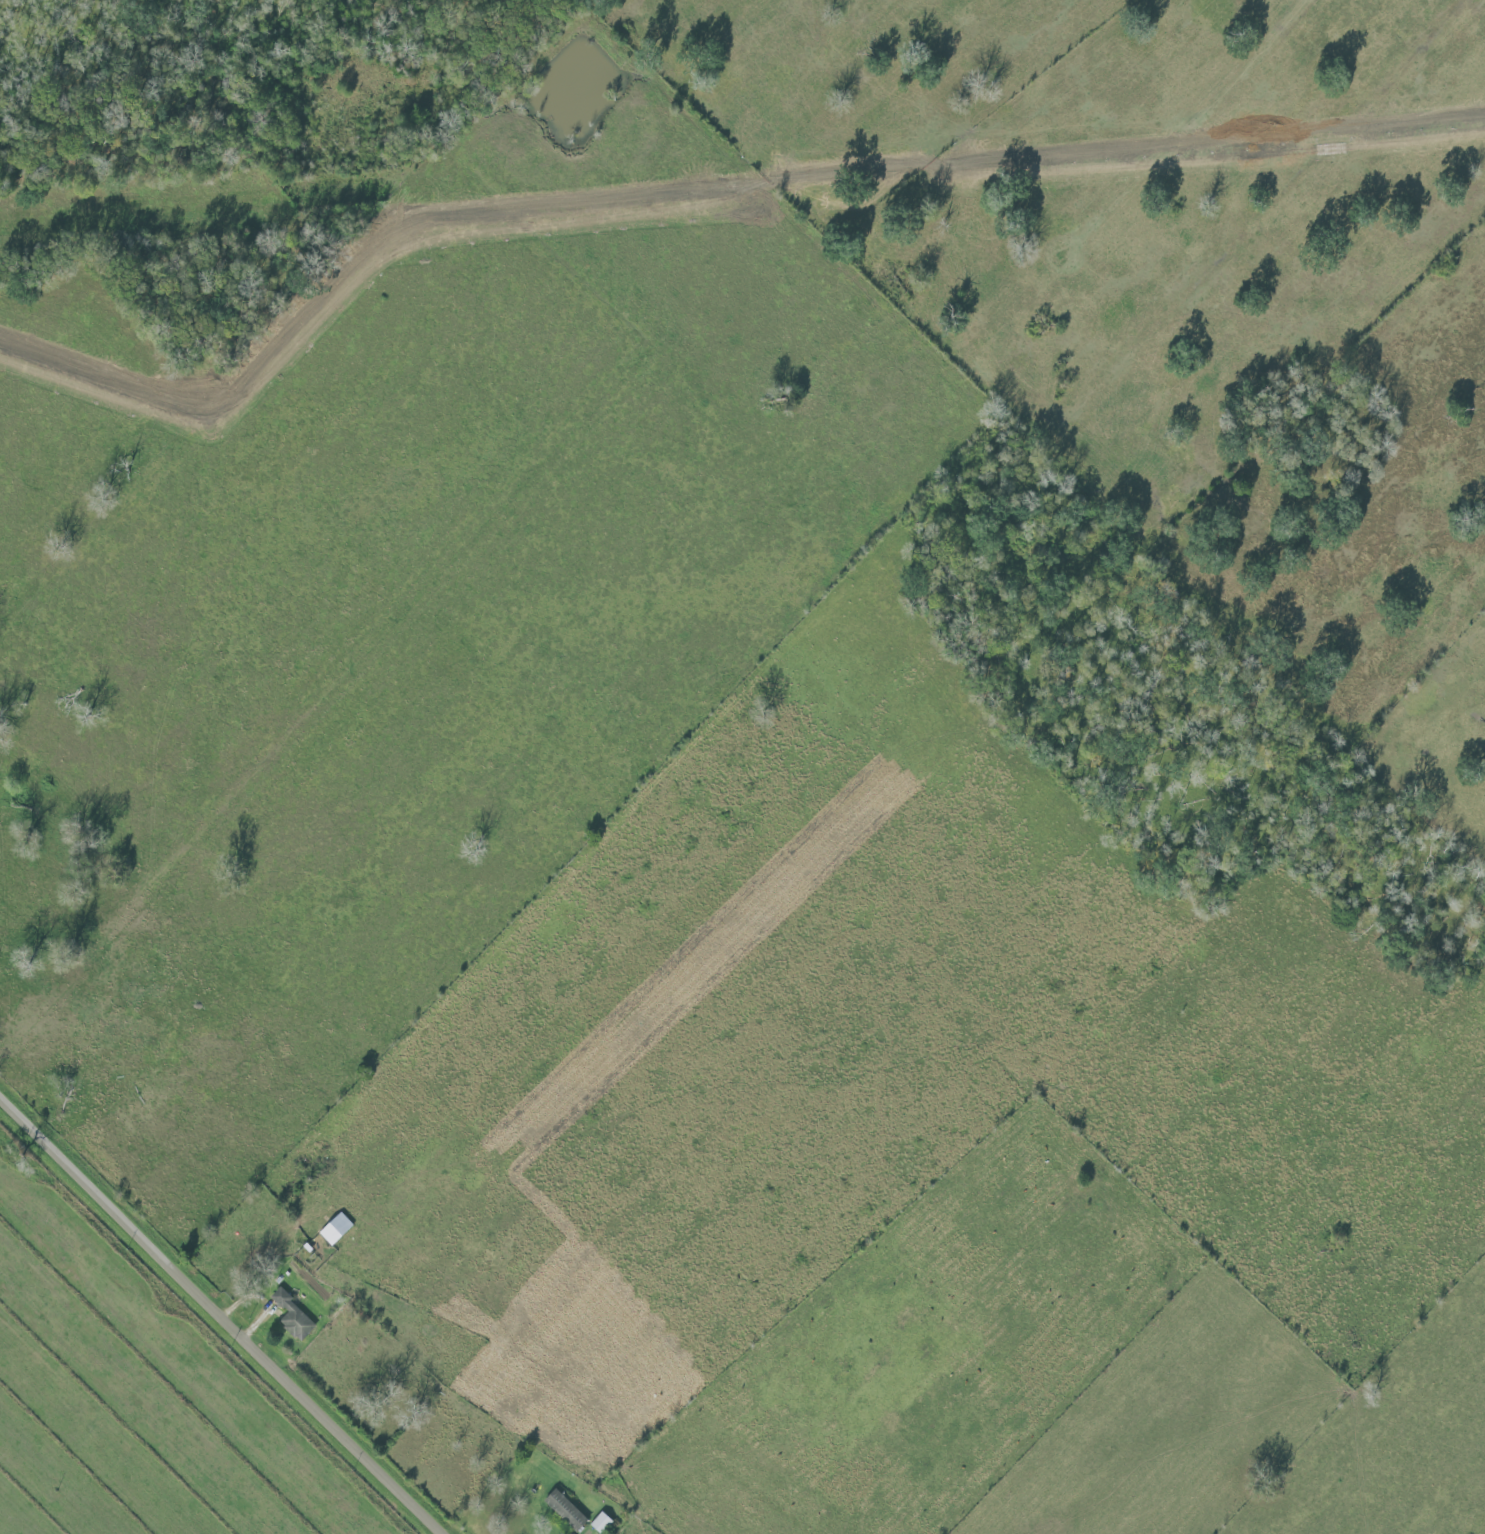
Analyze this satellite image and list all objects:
building: (338, 1230)
road: (221, 1315)
building: (295, 1317)
building: (569, 1510)
building: (603, 1523)

